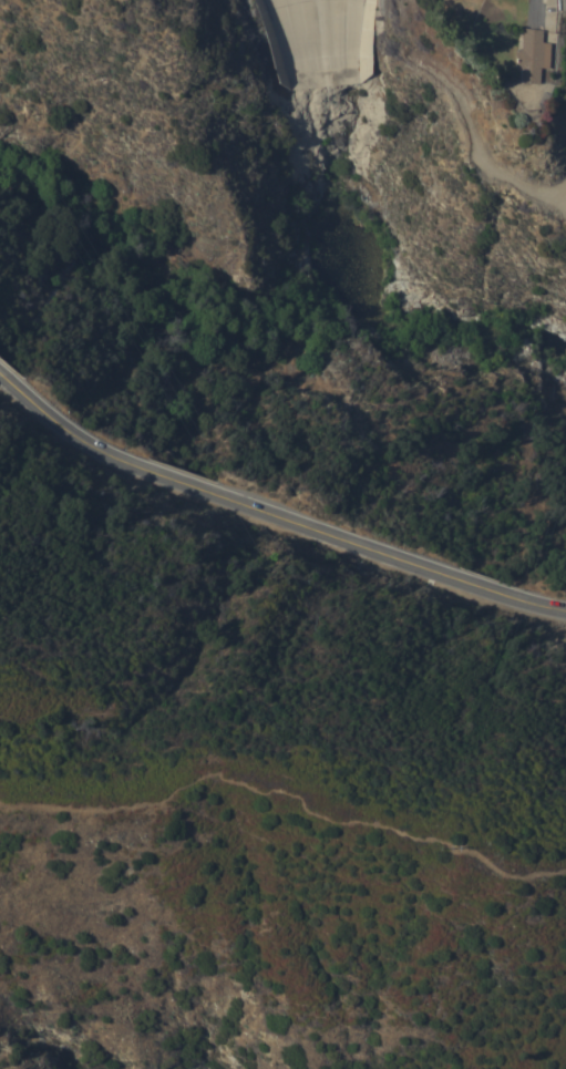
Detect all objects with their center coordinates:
building: (529, 54)
dam: (419, 107)
river: (316, 110)
river: (413, 320)
road: (274, 498)

